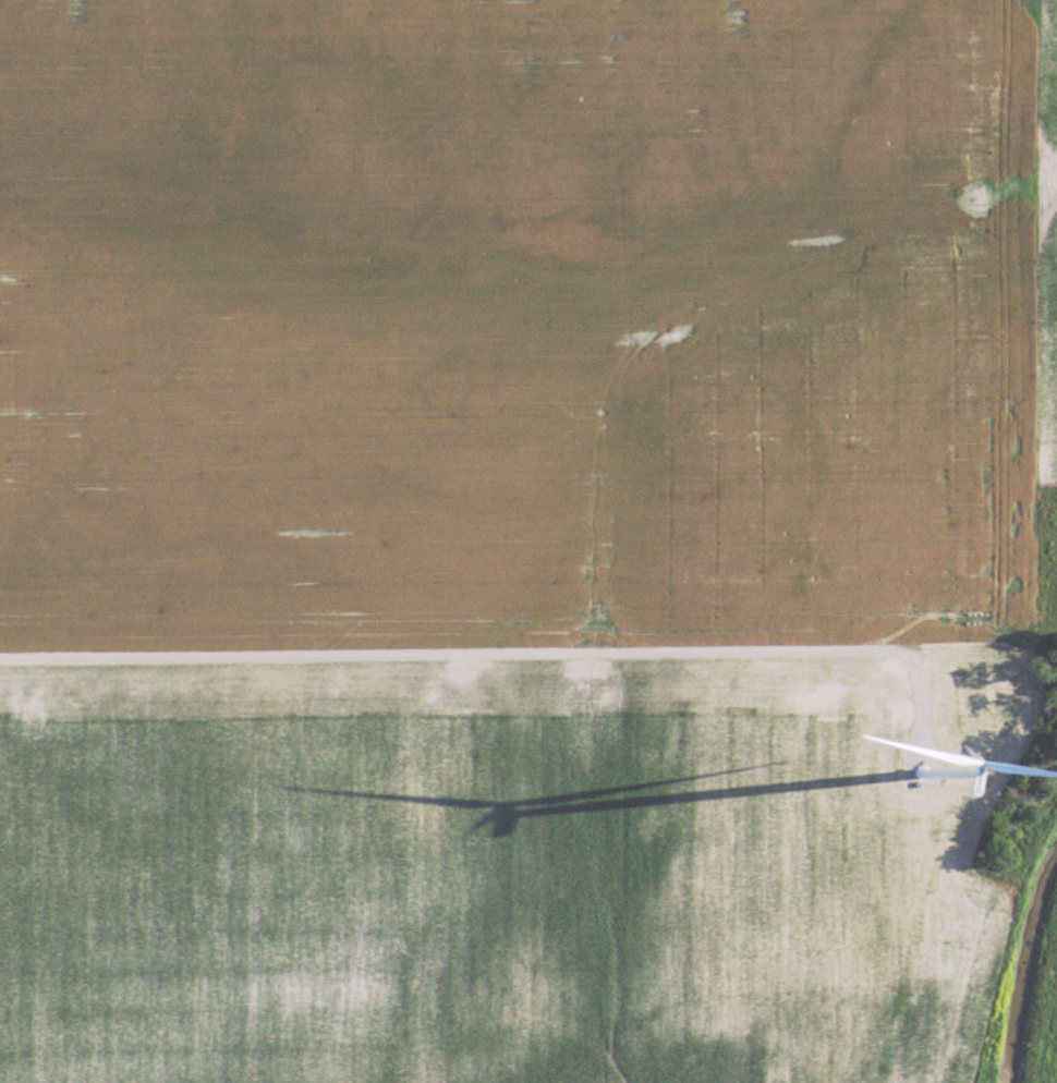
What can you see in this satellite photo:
road: (495, 643)
wind turbine: (944, 742)
river: (1022, 957)

